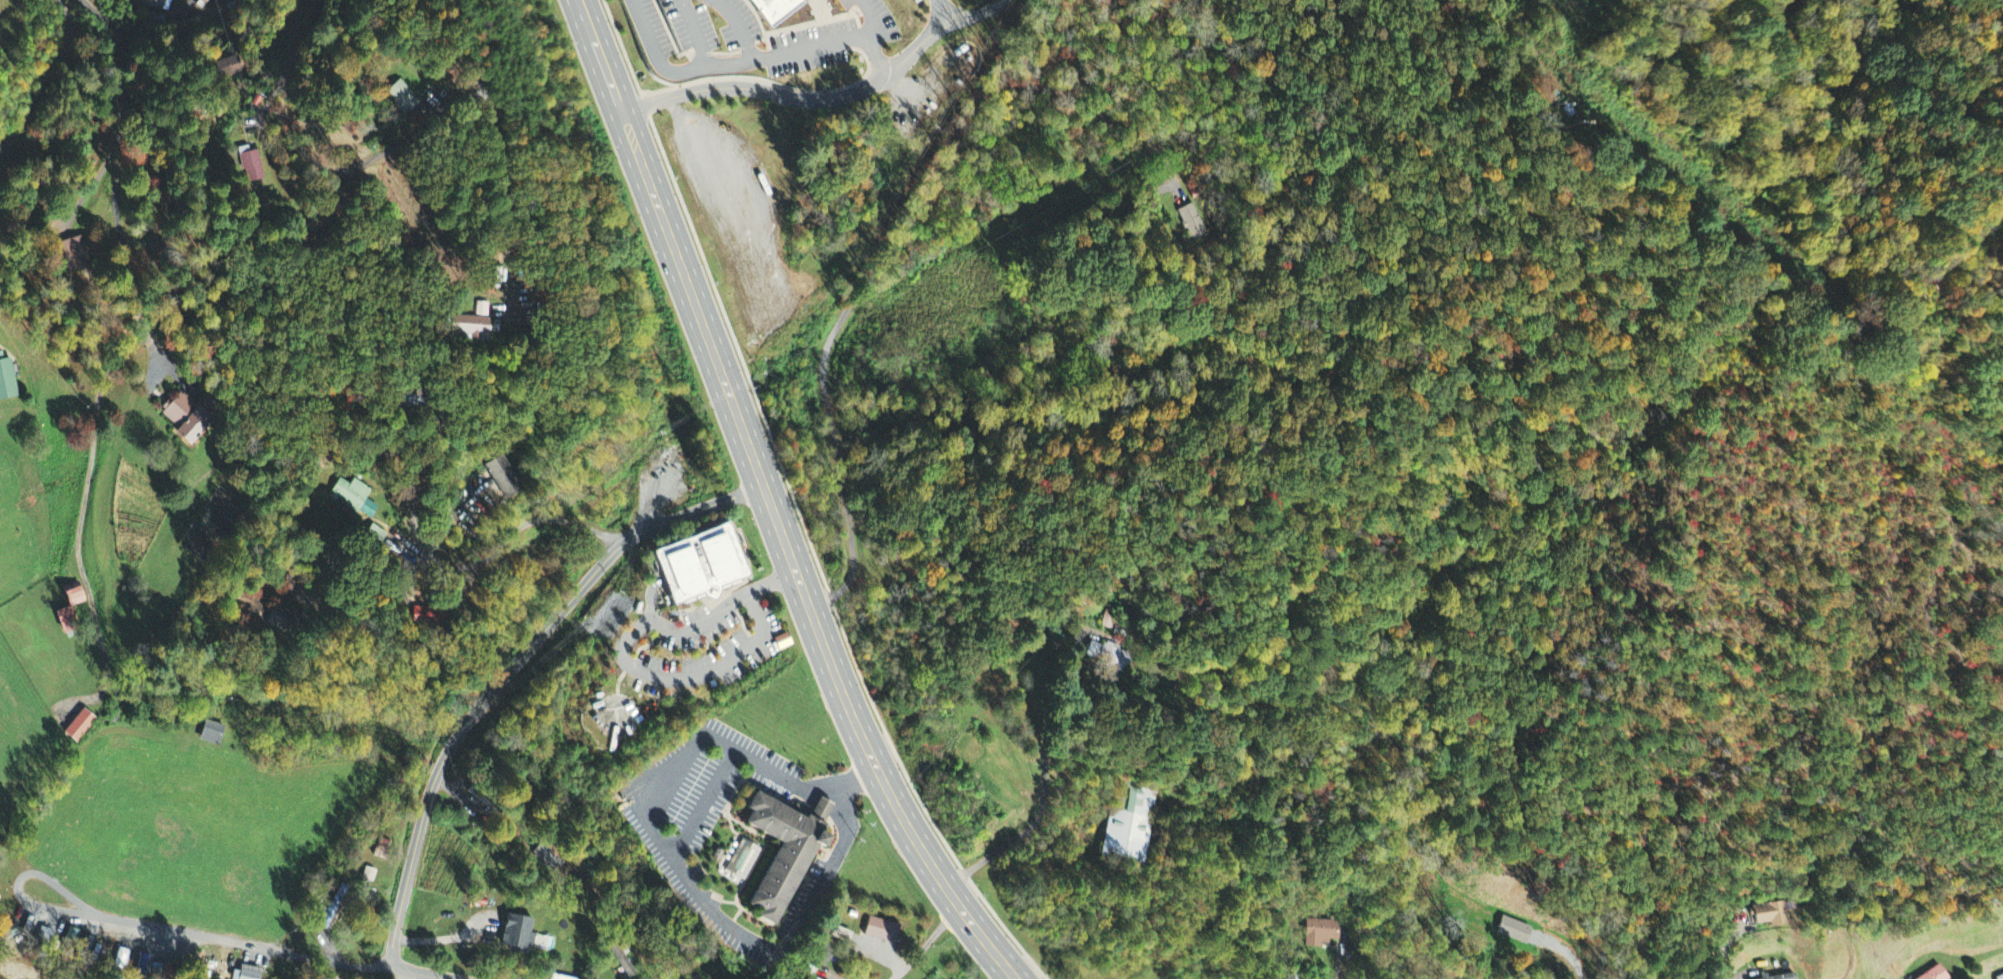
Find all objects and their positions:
building: (1544, 0)
road: (1006, 2)
building: (156, 5)
building: (773, 7)
road: (950, 11)
road: (883, 23)
road: (739, 26)
road: (691, 32)
road: (751, 59)
road: (42, 76)
building: (393, 98)
road: (825, 101)
road: (111, 150)
road: (302, 152)
building: (245, 165)
road: (501, 183)
road: (91, 193)
building: (1194, 219)
road: (889, 239)
building: (74, 255)
building: (483, 304)
building: (469, 323)
building: (7, 380)
building: (414, 398)
building: (186, 418)
road: (440, 419)
building: (385, 447)
building: (508, 472)
building: (356, 495)
road: (771, 503)
park: (215, 521)
building: (378, 531)
building: (695, 562)
road: (476, 563)
building: (290, 582)
road: (366, 589)
building: (251, 604)
building: (68, 607)
building: (430, 614)
building: (1111, 616)
building: (291, 619)
building: (783, 639)
building: (1107, 651)
road: (619, 653)
building: (1216, 666)
road: (510, 673)
helipad: (614, 715)
building: (83, 723)
building: (213, 730)
road: (1042, 759)
road: (73, 766)
building: (486, 799)
road: (705, 804)
building: (1126, 821)
building: (380, 847)
building: (781, 848)
building: (548, 853)
road: (670, 854)
building: (717, 854)
building: (742, 858)
building: (368, 872)
building: (331, 905)
building: (1772, 916)
road: (152, 925)
building: (1320, 930)
building: (513, 931)
building: (880, 932)
building: (1513, 932)
road: (928, 942)
road: (1720, 946)
building: (622, 959)
building: (809, 964)
building: (1313, 964)
building: (247, 971)
road: (419, 973)
road: (1338, 973)
road: (833, 974)
building: (1294, 974)
building: (1936, 975)
building: (558, 977)
building: (1787, 977)
building: (2001, 977)
building: (814, 978)

